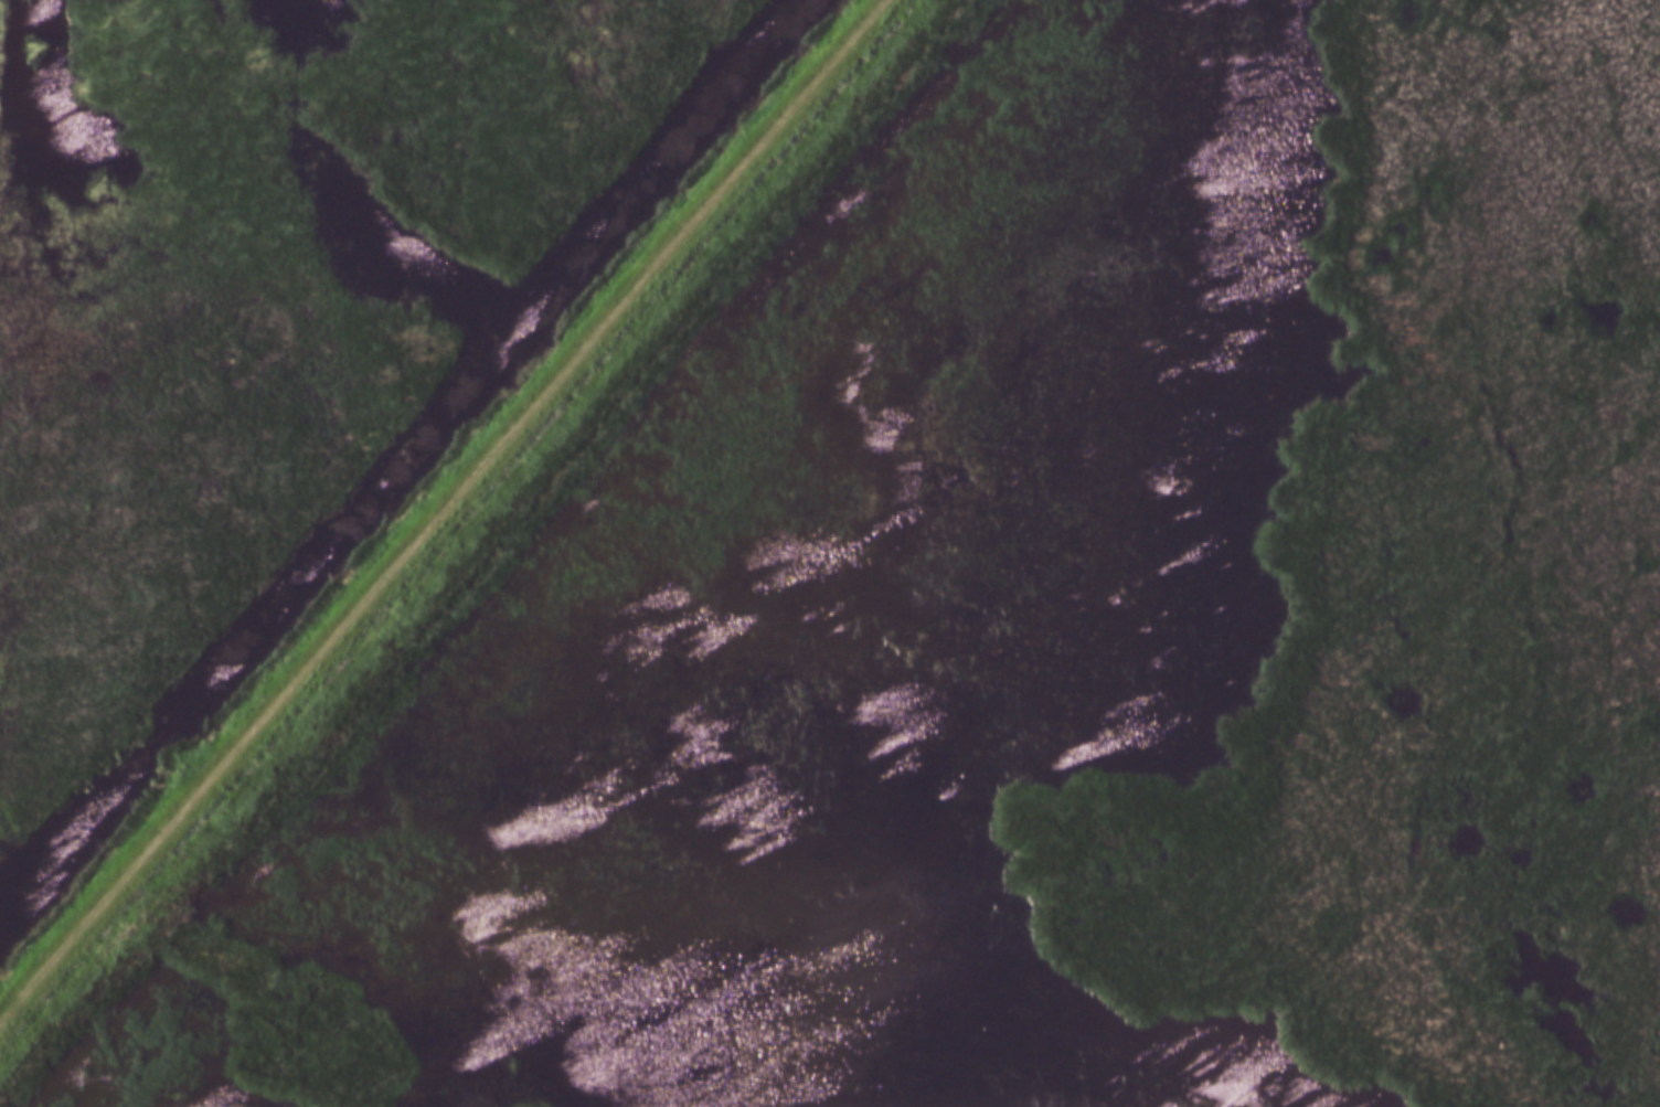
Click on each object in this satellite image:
road: (441, 508)
dam: (460, 528)

